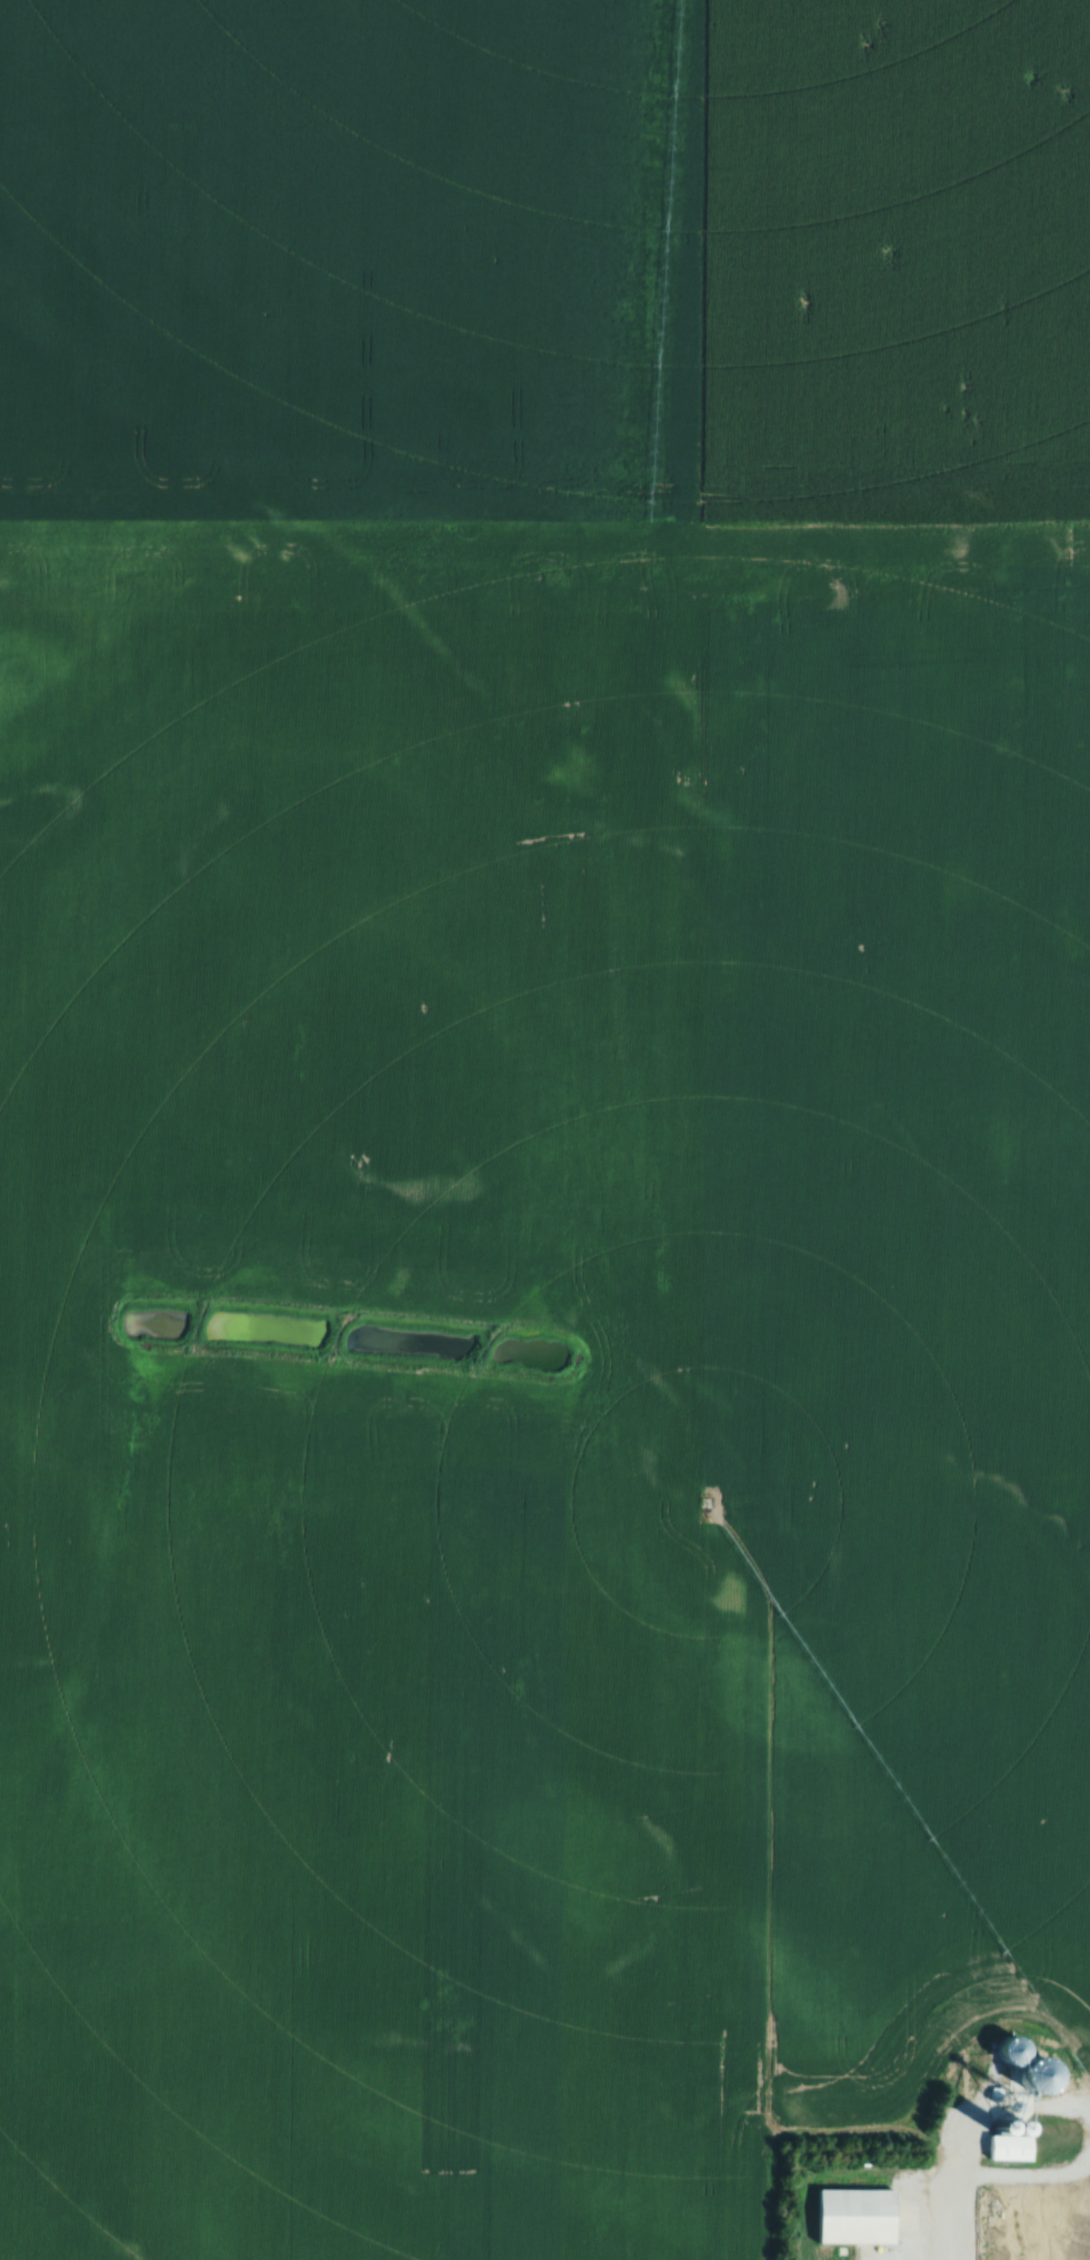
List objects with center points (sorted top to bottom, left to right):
building: (1006, 2148)
road: (942, 2190)
building: (851, 2217)

